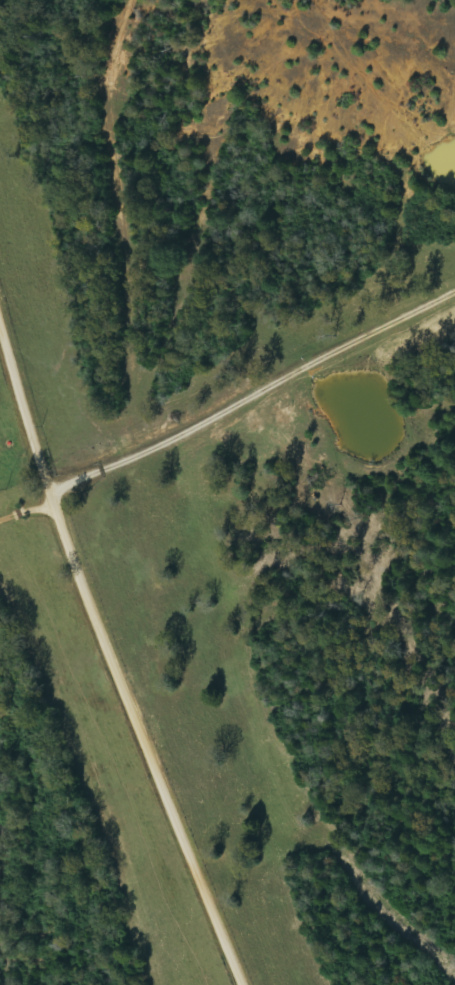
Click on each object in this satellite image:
road: (110, 657)

